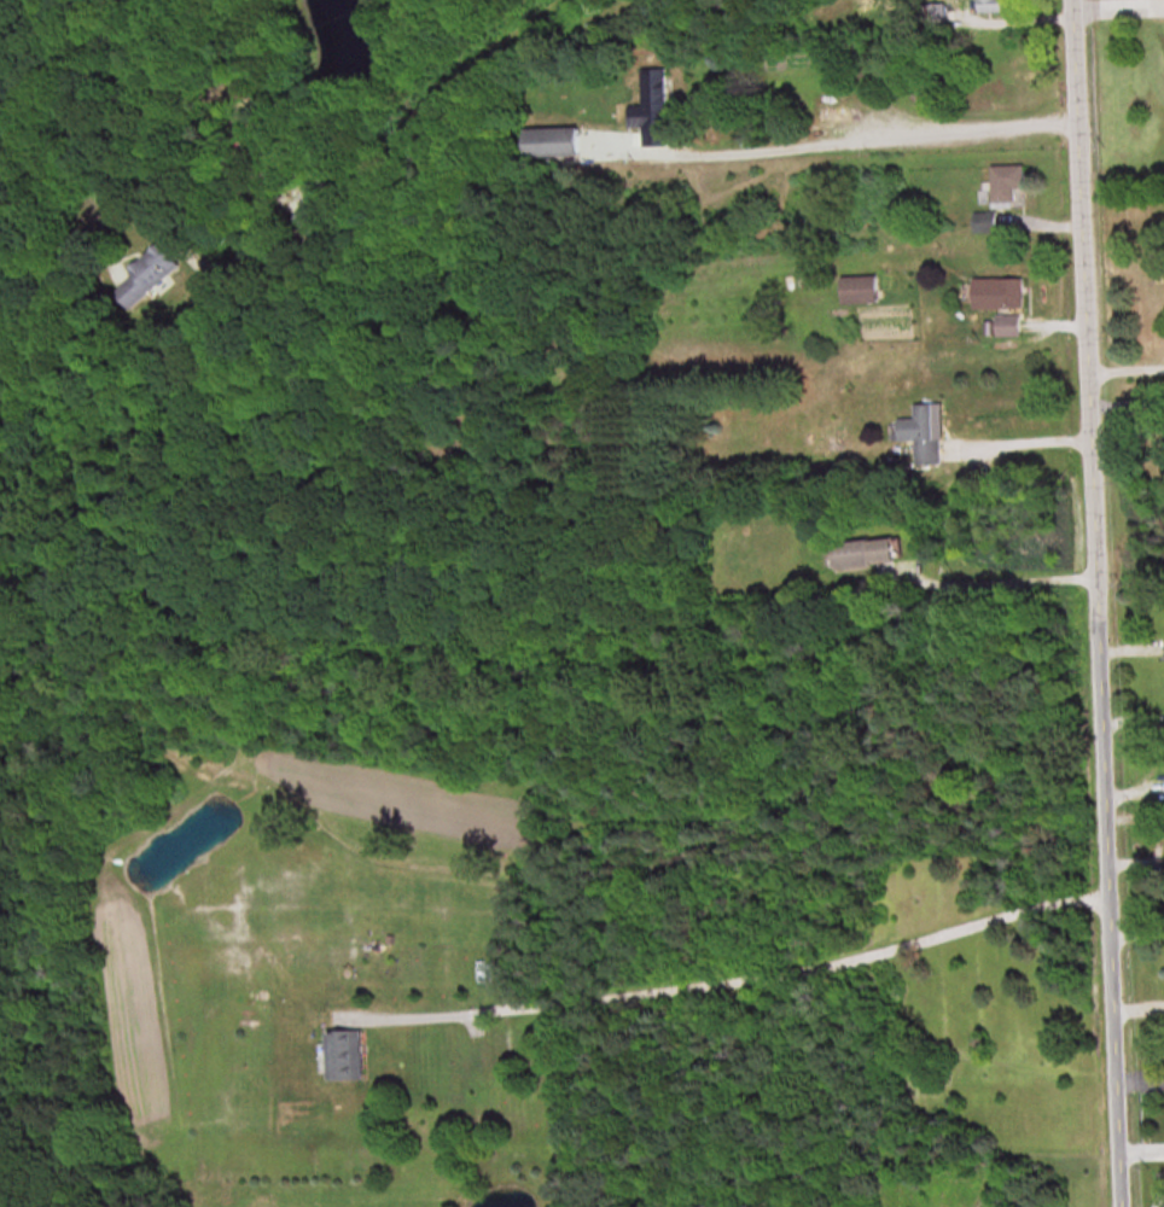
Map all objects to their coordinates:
building: (990, 5)
building: (936, 17)
building: (654, 106)
road: (867, 132)
building: (551, 141)
building: (1007, 185)
building: (163, 278)
building: (859, 291)
building: (1001, 304)
road: (1122, 360)
building: (923, 433)
building: (867, 555)
road: (995, 579)
road: (1088, 602)
road: (733, 973)
building: (344, 1057)

